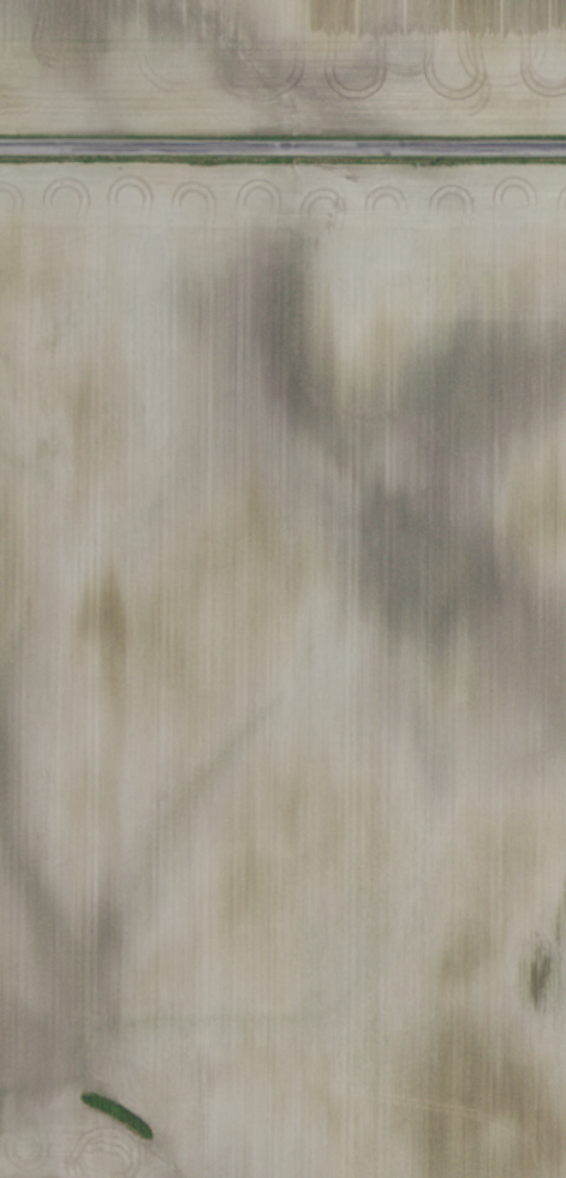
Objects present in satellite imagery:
road: (282, 150)

